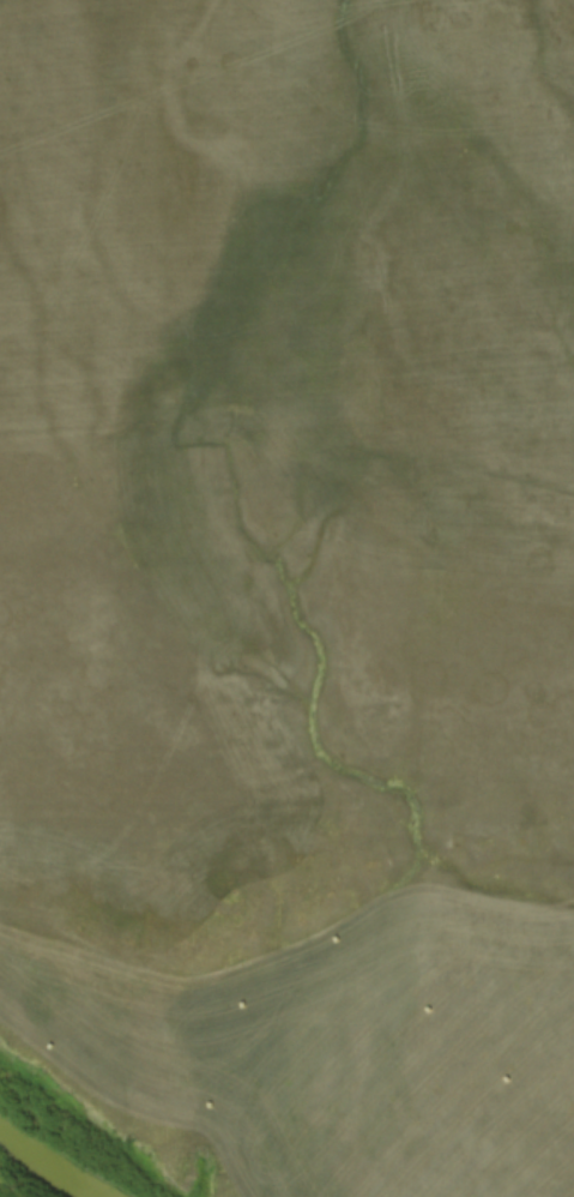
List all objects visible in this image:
river: (46, 1167)

